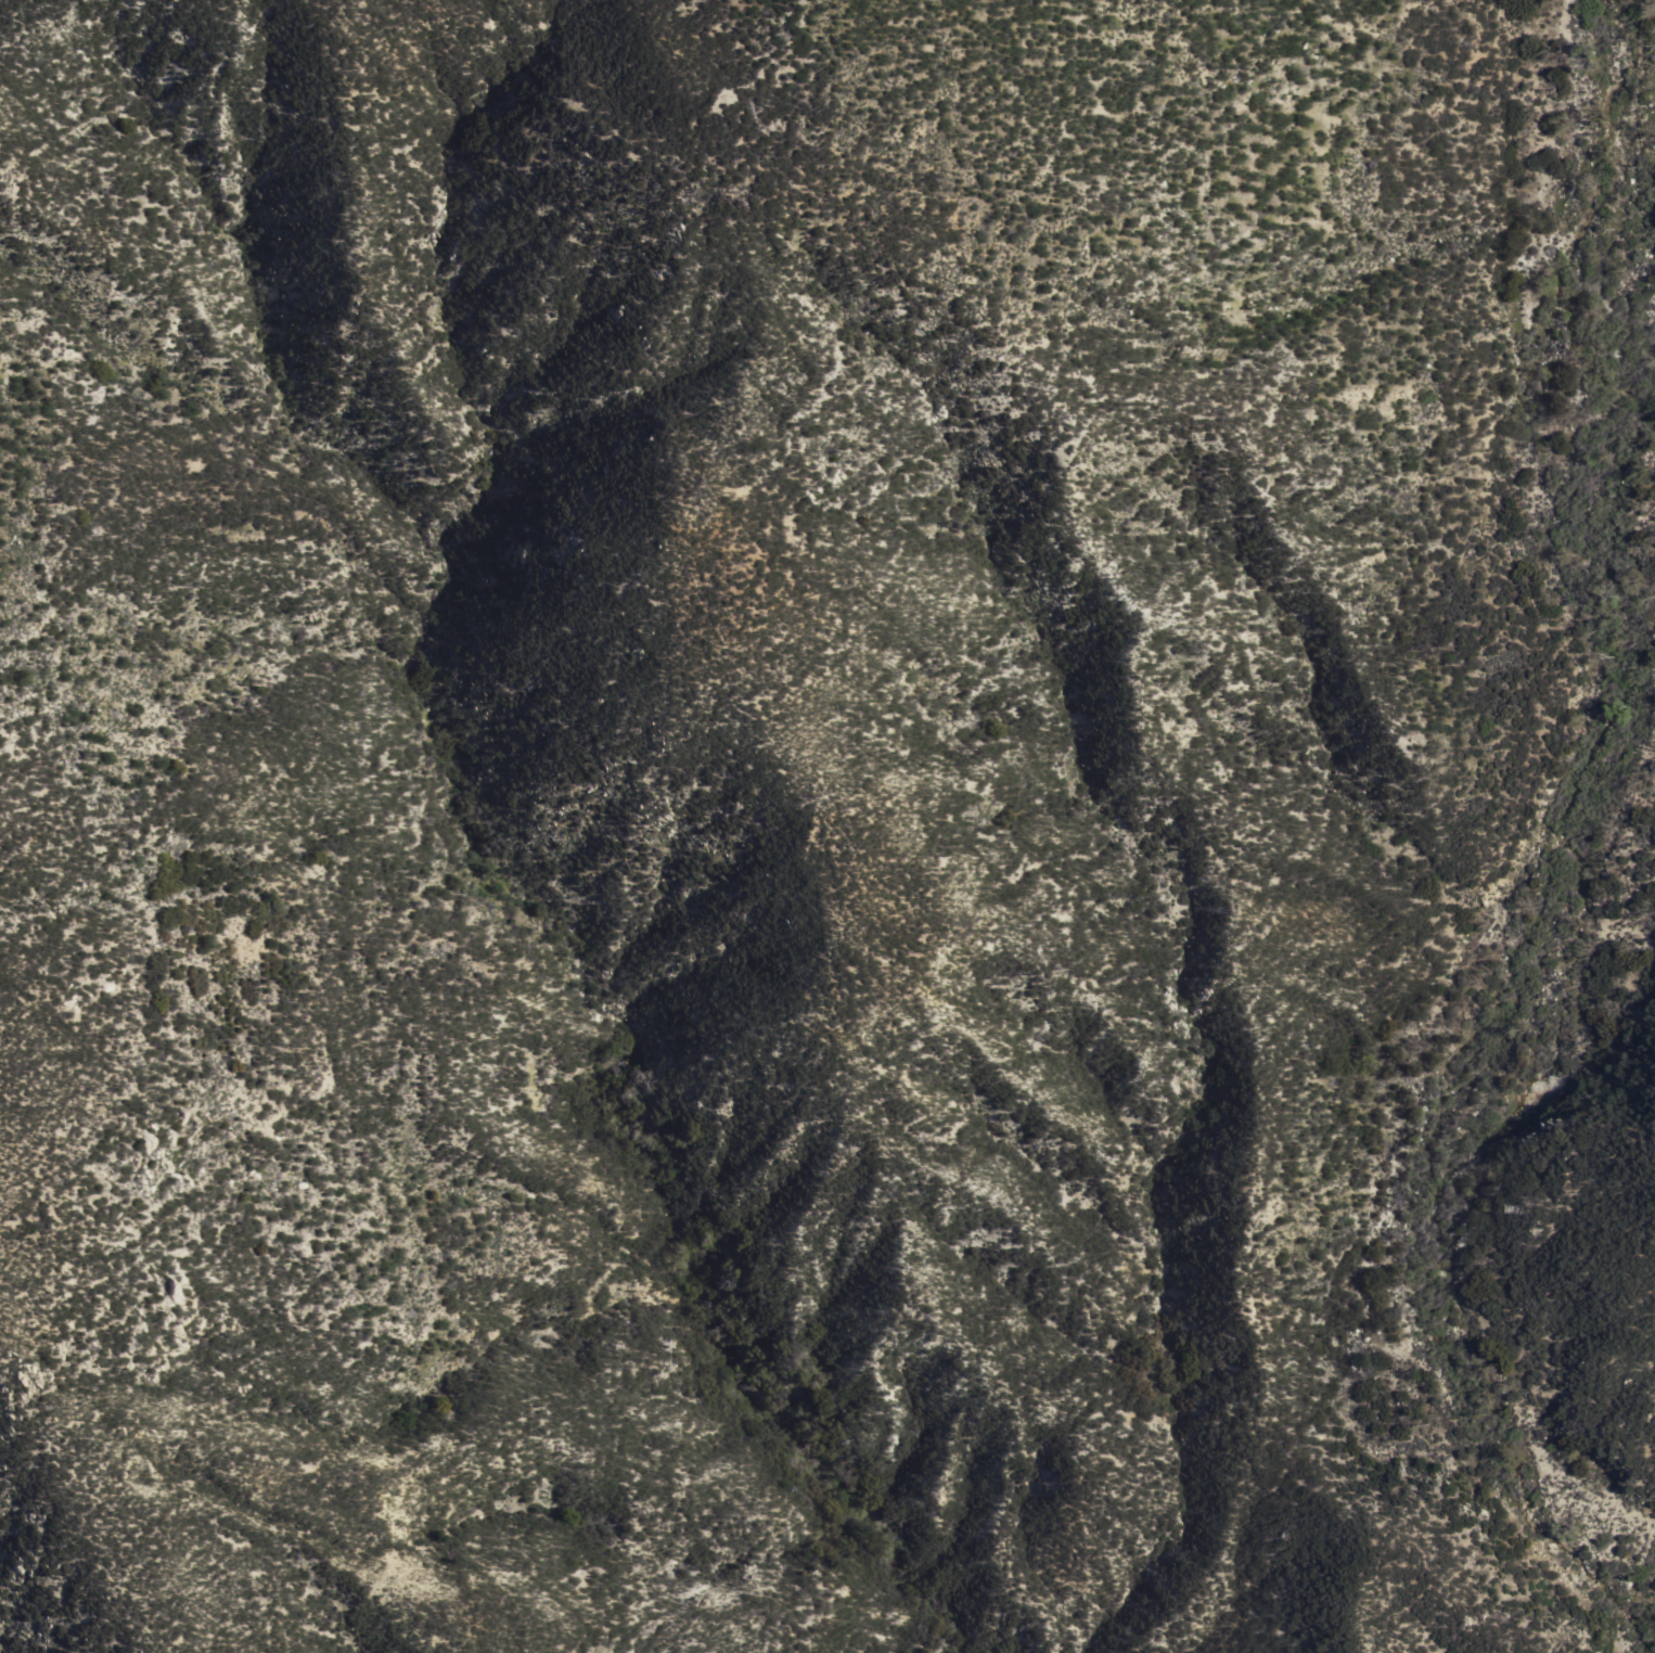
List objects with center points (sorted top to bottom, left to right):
river: (1589, 1505)

